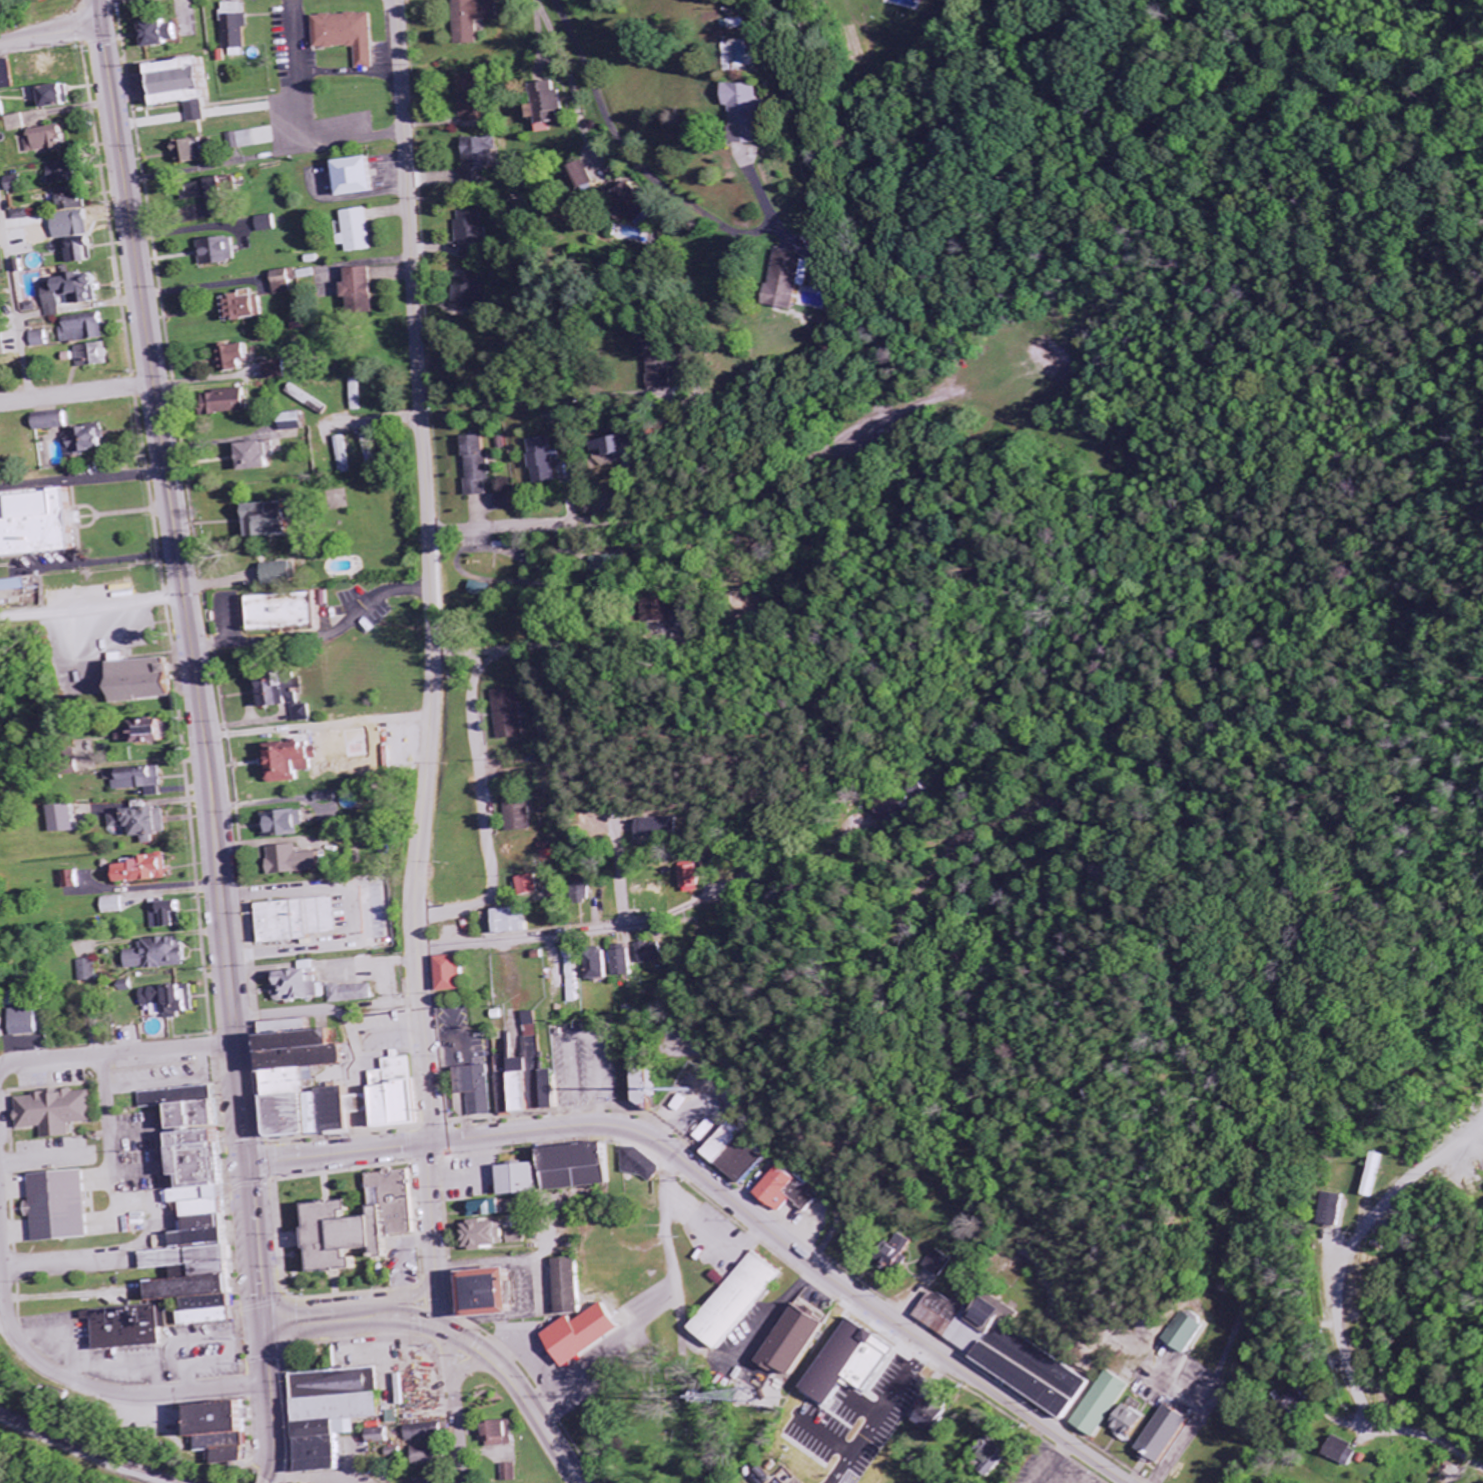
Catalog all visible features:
building: (475, 19)
building: (239, 27)
road: (51, 34)
building: (163, 35)
building: (349, 36)
building: (8, 77)
building: (188, 87)
building: (52, 98)
building: (473, 99)
building: (555, 105)
building: (2, 112)
building: (746, 113)
building: (49, 141)
building: (243, 141)
building: (192, 153)
road: (630, 154)
road: (264, 155)
building: (481, 159)
building: (71, 174)
building: (586, 178)
building: (362, 179)
building: (19, 185)
building: (219, 199)
building: (643, 208)
building: (24, 216)
building: (269, 225)
building: (360, 232)
building: (473, 235)
building: (82, 251)
building: (221, 254)
building: (780, 280)
building: (285, 283)
building: (366, 291)
building: (469, 291)
building: (74, 293)
road: (15, 302)
building: (251, 308)
building: (86, 329)
building: (42, 339)
building: (95, 355)
building: (238, 357)
building: (657, 358)
road: (418, 364)
building: (277, 370)
road: (77, 393)
building: (310, 400)
building: (231, 402)
building: (54, 421)
building: (297, 422)
building: (621, 447)
building: (370, 453)
building: (343, 454)
building: (258, 457)
building: (548, 462)
building: (481, 466)
road: (83, 481)
building: (508, 503)
building: (276, 520)
building: (42, 524)
road: (508, 526)
building: (610, 564)
building: (284, 573)
building: (12, 586)
building: (485, 589)
road: (134, 605)
building: (289, 612)
road: (42, 613)
road: (563, 648)
road: (487, 662)
road: (194, 663)
building: (152, 680)
building: (286, 696)
building: (510, 715)
building: (149, 732)
road: (317, 732)
building: (293, 761)
building: (143, 780)
building: (891, 808)
road: (486, 813)
building: (520, 815)
building: (66, 819)
building: (146, 823)
building: (286, 823)
building: (661, 827)
road: (726, 858)
building: (295, 861)
building: (145, 870)
building: (697, 878)
building: (73, 880)
building: (532, 886)
building: (585, 891)
building: (114, 906)
road: (365, 909)
building: (169, 915)
building: (303, 920)
building: (514, 922)
road: (593, 929)
building: (655, 953)
building: (162, 955)
building: (627, 961)
road: (324, 964)
building: (603, 966)
building: (90, 971)
building: (457, 974)
building: (301, 987)
building: (354, 994)
road: (387, 998)
building: (536, 1018)
building: (27, 1023)
road: (426, 1030)
road: (119, 1049)
building: (290, 1077)
building: (533, 1081)
building: (480, 1090)
building: (59, 1113)
building: (568, 1172)
building: (1374, 1175)
building: (788, 1192)
road: (725, 1193)
building: (65, 1208)
building: (204, 1210)
building: (491, 1210)
building: (1335, 1210)
building: (368, 1223)
road: (714, 1230)
building: (500, 1237)
building: (896, 1253)
building: (934, 1263)
road: (7, 1287)
building: (582, 1287)
building: (506, 1295)
building: (743, 1302)
building: (937, 1304)
road: (659, 1306)
building: (991, 1312)
road: (1311, 1318)
building: (131, 1328)
traffic signals: (268, 1329)
building: (2, 1334)
building: (1183, 1334)
building: (597, 1335)
road: (461, 1336)
building: (796, 1339)
road: (743, 1356)
road: (534, 1359)
road: (1352, 1361)
building: (841, 1364)
road: (467, 1369)
road: (161, 1394)
building: (1294, 1402)
road: (275, 1405)
building: (1099, 1405)
road: (457, 1406)
road: (881, 1412)
building: (341, 1414)
building: (926, 1415)
building: (1124, 1422)
road: (1194, 1423)
building: (232, 1431)
building: (430, 1433)
road: (827, 1434)
building: (502, 1435)
building: (1159, 1435)
building: (386, 1437)
railway: (87, 1451)
building: (1341, 1451)
building: (434, 1456)
building: (988, 1460)
building: (514, 1474)
building: (434, 1481)

